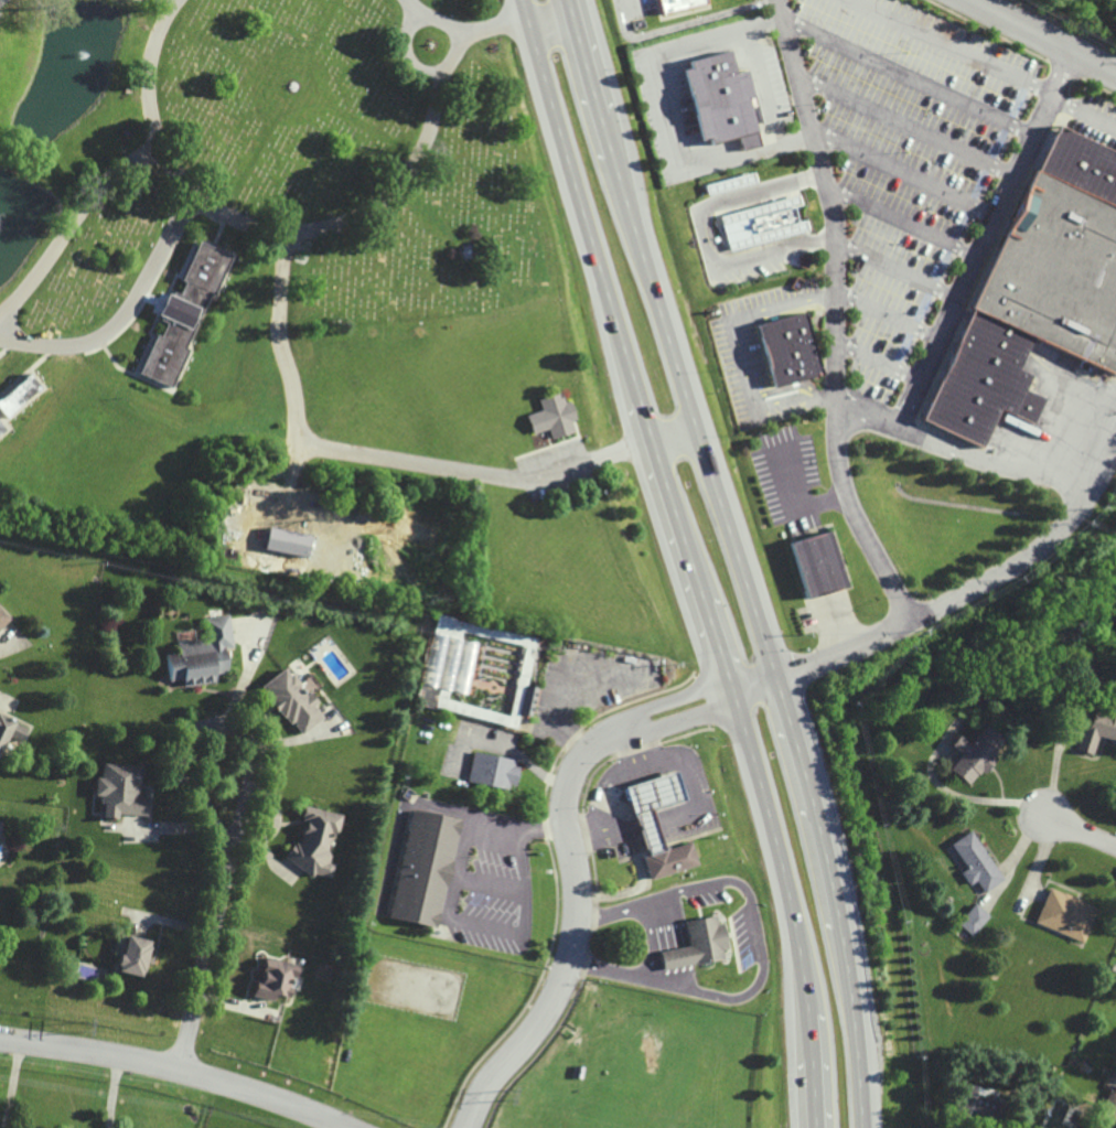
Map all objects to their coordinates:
building: (679, 7)
gas station: (679, 7)
road: (415, 10)
road: (548, 13)
road: (684, 24)
road: (492, 28)
road: (1044, 36)
road: (458, 41)
road: (949, 46)
road: (149, 68)
road: (908, 78)
road: (762, 86)
building: (722, 99)
road: (1082, 110)
road: (668, 114)
road: (906, 128)
road: (904, 174)
road: (733, 198)
road: (71, 222)
building: (764, 223)
road: (902, 224)
road: (328, 228)
road: (808, 241)
road: (749, 260)
road: (895, 269)
building: (1039, 287)
park: (301, 310)
road: (127, 312)
building: (183, 313)
road: (836, 313)
road: (887, 316)
road: (940, 331)
road: (281, 342)
building: (788, 350)
road: (740, 351)
road: (878, 362)
building: (18, 395)
building: (551, 416)
road: (866, 416)
building: (1, 427)
road: (1097, 470)
road: (503, 477)
building: (286, 541)
road: (689, 559)
road: (736, 559)
building: (814, 563)
road: (934, 604)
building: (3, 617)
building: (455, 652)
building: (202, 654)
road: (750, 686)
road: (667, 699)
building: (291, 700)
building: (443, 703)
road: (675, 721)
building: (10, 730)
building: (1094, 730)
road: (245, 739)
building: (973, 754)
building: (491, 771)
road: (609, 789)
building: (121, 791)
building: (0, 826)
road: (1079, 832)
building: (315, 840)
building: (668, 861)
building: (974, 862)
building: (422, 868)
road: (640, 878)
road: (751, 905)
road: (450, 912)
building: (1063, 914)
building: (972, 918)
road: (570, 932)
road: (646, 943)
building: (693, 945)
building: (132, 955)
road: (207, 973)
road: (608, 974)
building: (273, 979)
power tower: (85, 1027)
road: (169, 1071)
road: (11, 1086)
road: (114, 1093)
power tower: (505, 1094)
building: (976, 1103)
building: (1108, 1105)

